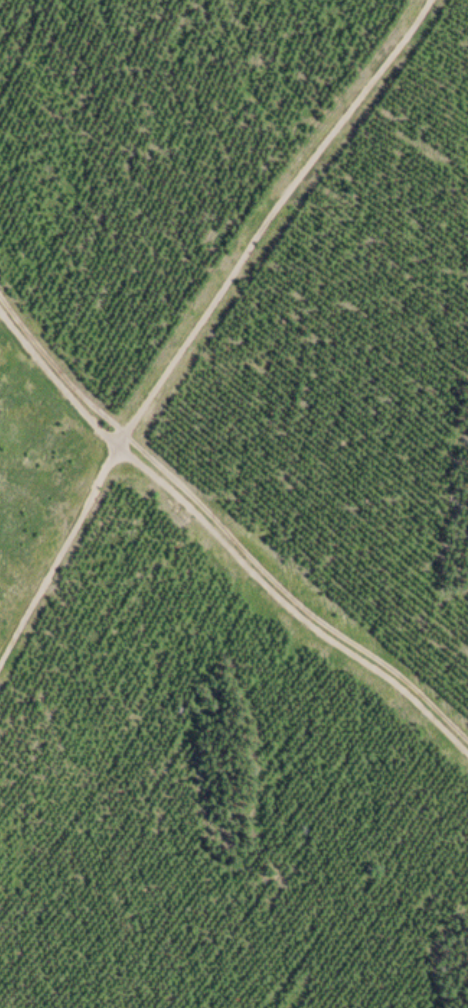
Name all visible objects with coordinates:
road: (197, 322)
road: (220, 545)

